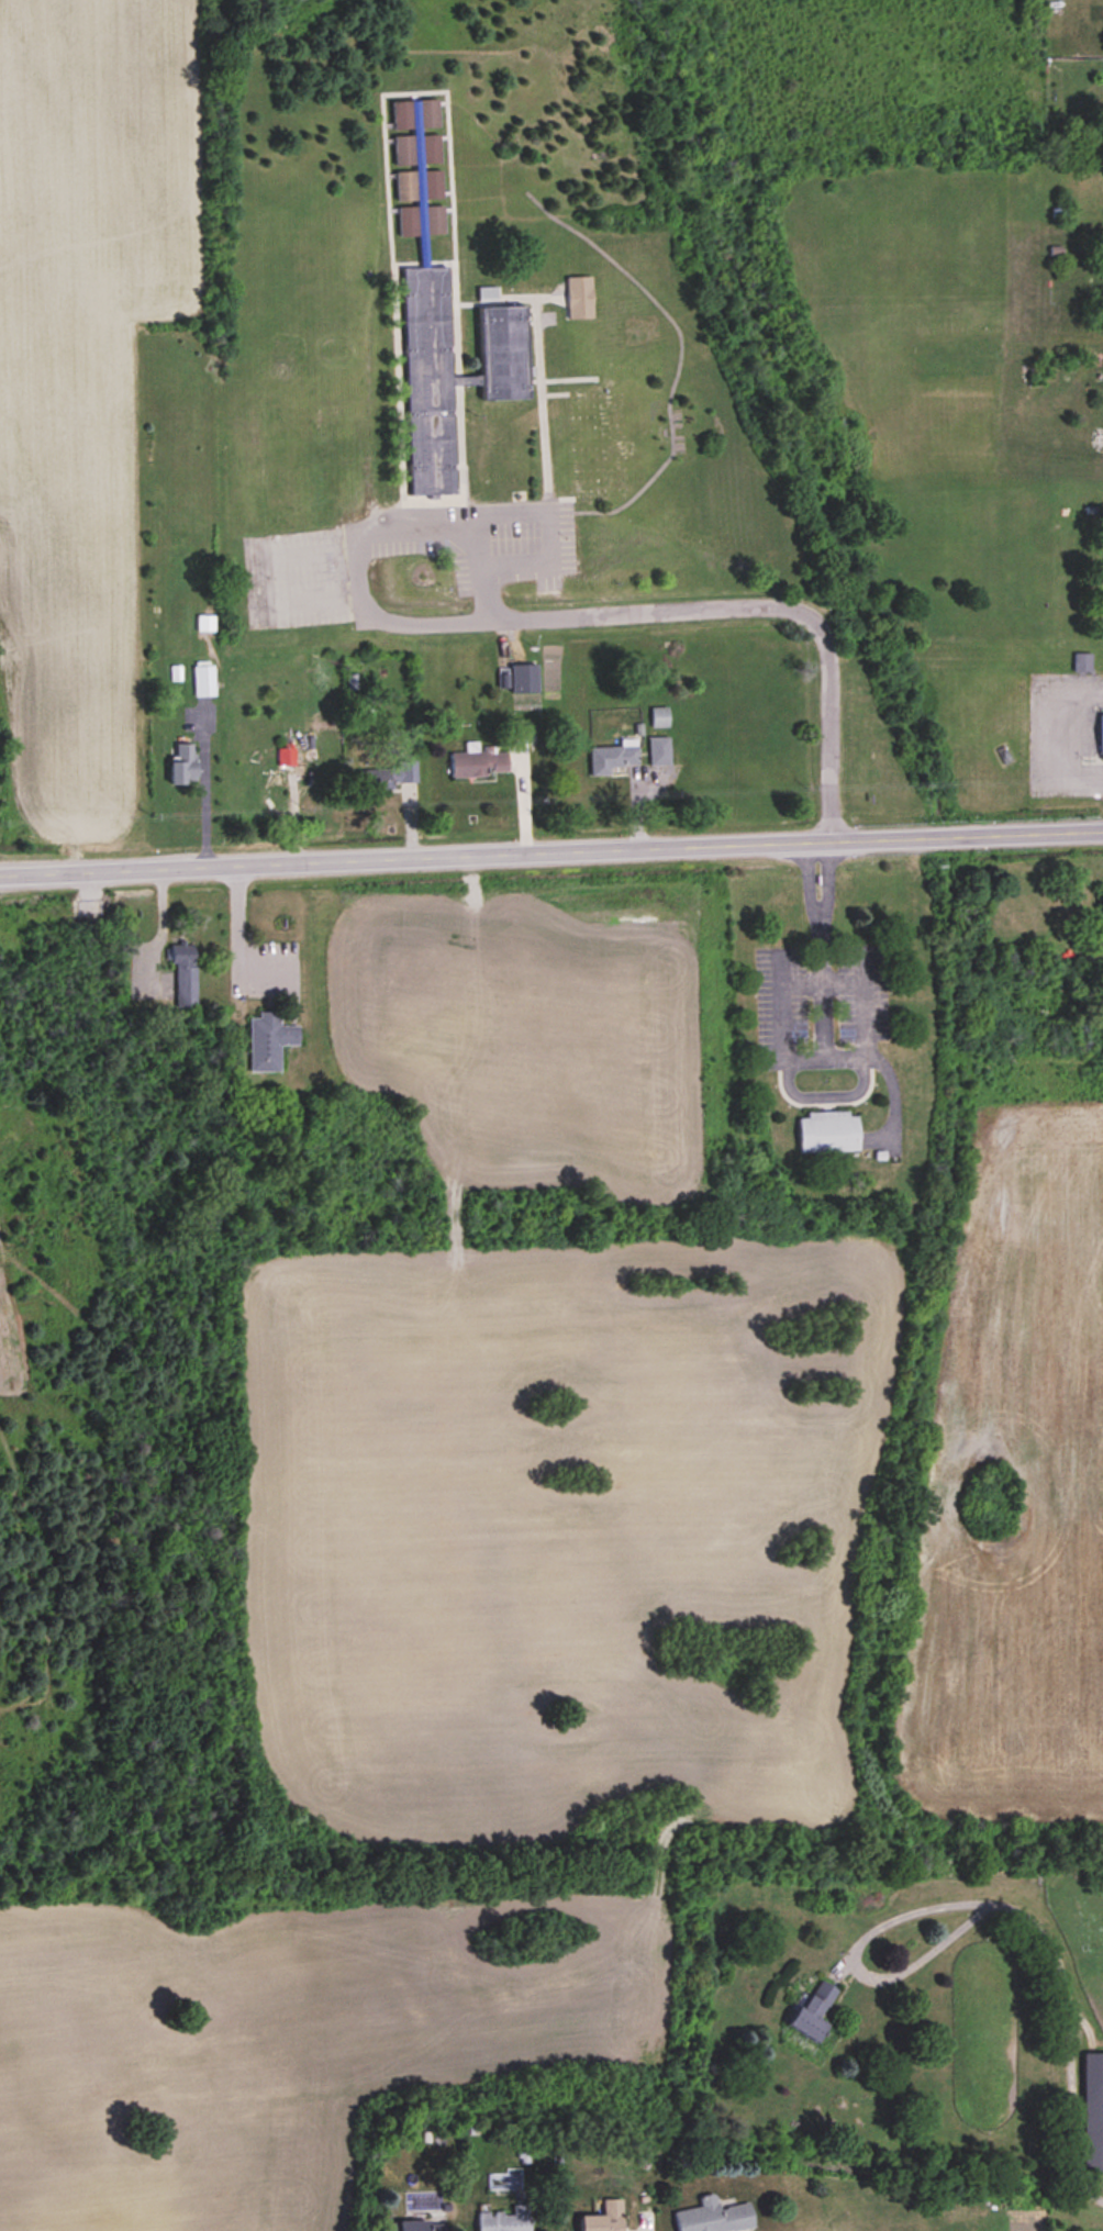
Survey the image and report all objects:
building: (428, 115)
building: (402, 116)
building: (431, 149)
building: (405, 169)
building: (433, 186)
building: (409, 221)
building: (434, 221)
building: (580, 298)
building: (503, 353)
building: (430, 381)
building: (600, 443)
road: (556, 615)
building: (207, 624)
building: (1082, 662)
building: (524, 679)
building: (204, 681)
building: (659, 718)
building: (1102, 736)
road: (1067, 737)
building: (659, 752)
building: (286, 757)
building: (613, 759)
building: (479, 763)
building: (183, 765)
building: (385, 777)
road: (203, 804)
road: (551, 850)
building: (1102, 903)
road: (236, 928)
building: (185, 974)
building: (269, 1041)
building: (828, 1133)
road: (854, 1959)
building: (813, 2011)
road: (1069, 2031)
building: (1093, 2112)
building: (715, 2217)
building: (605, 2218)
building: (505, 2220)
building: (417, 2226)

